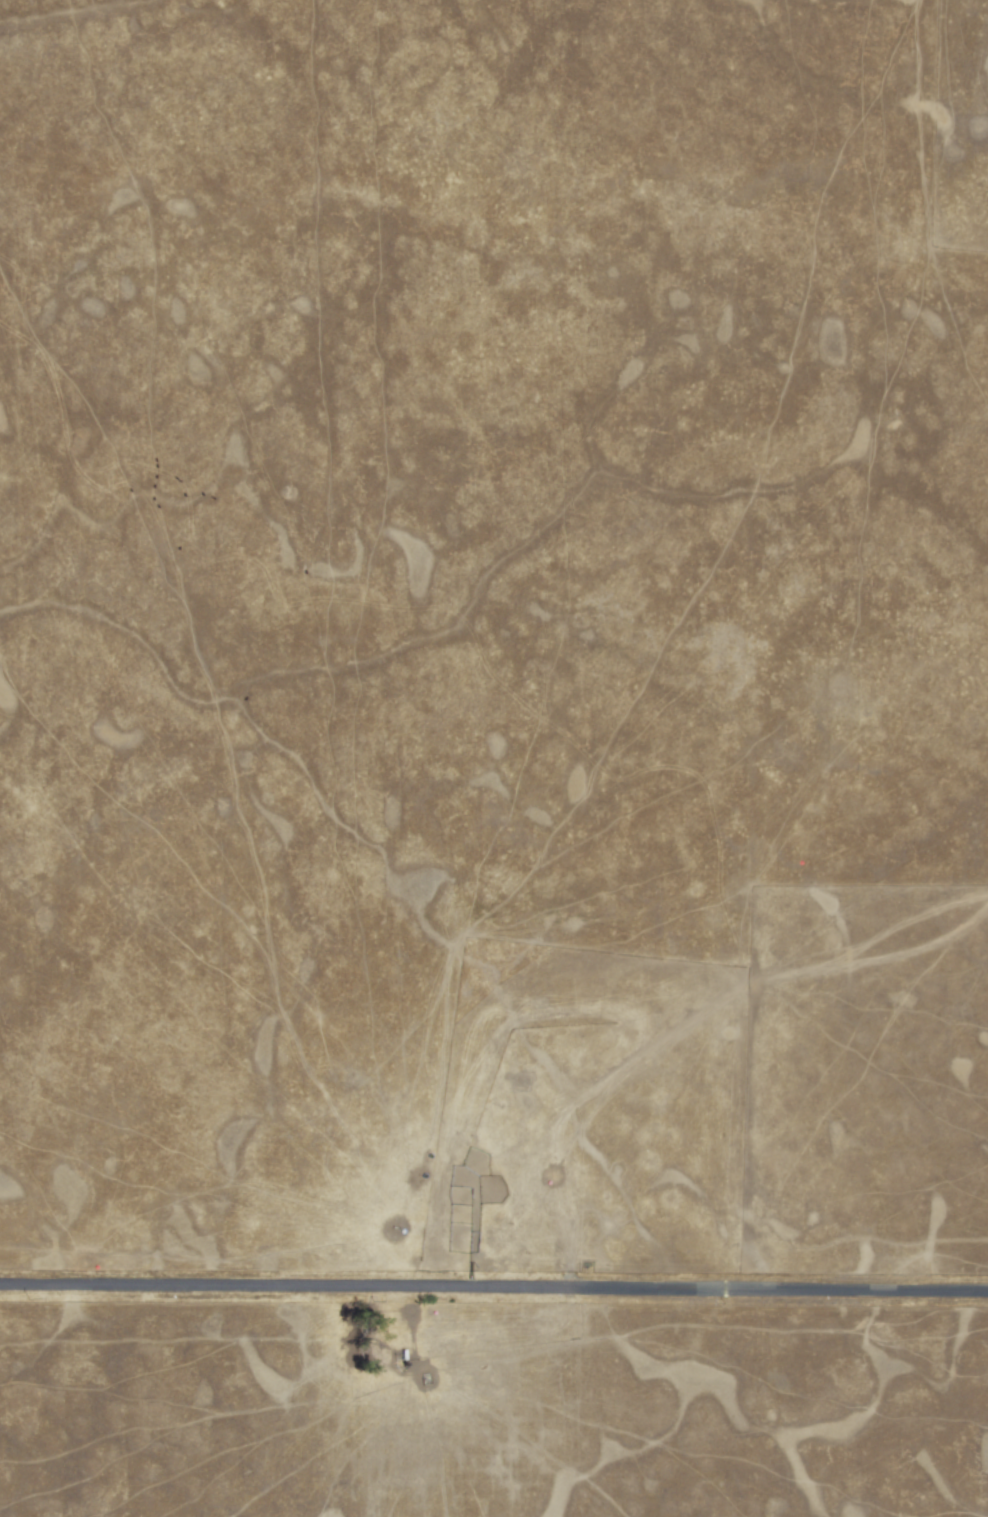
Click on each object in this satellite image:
road: (494, 1286)

